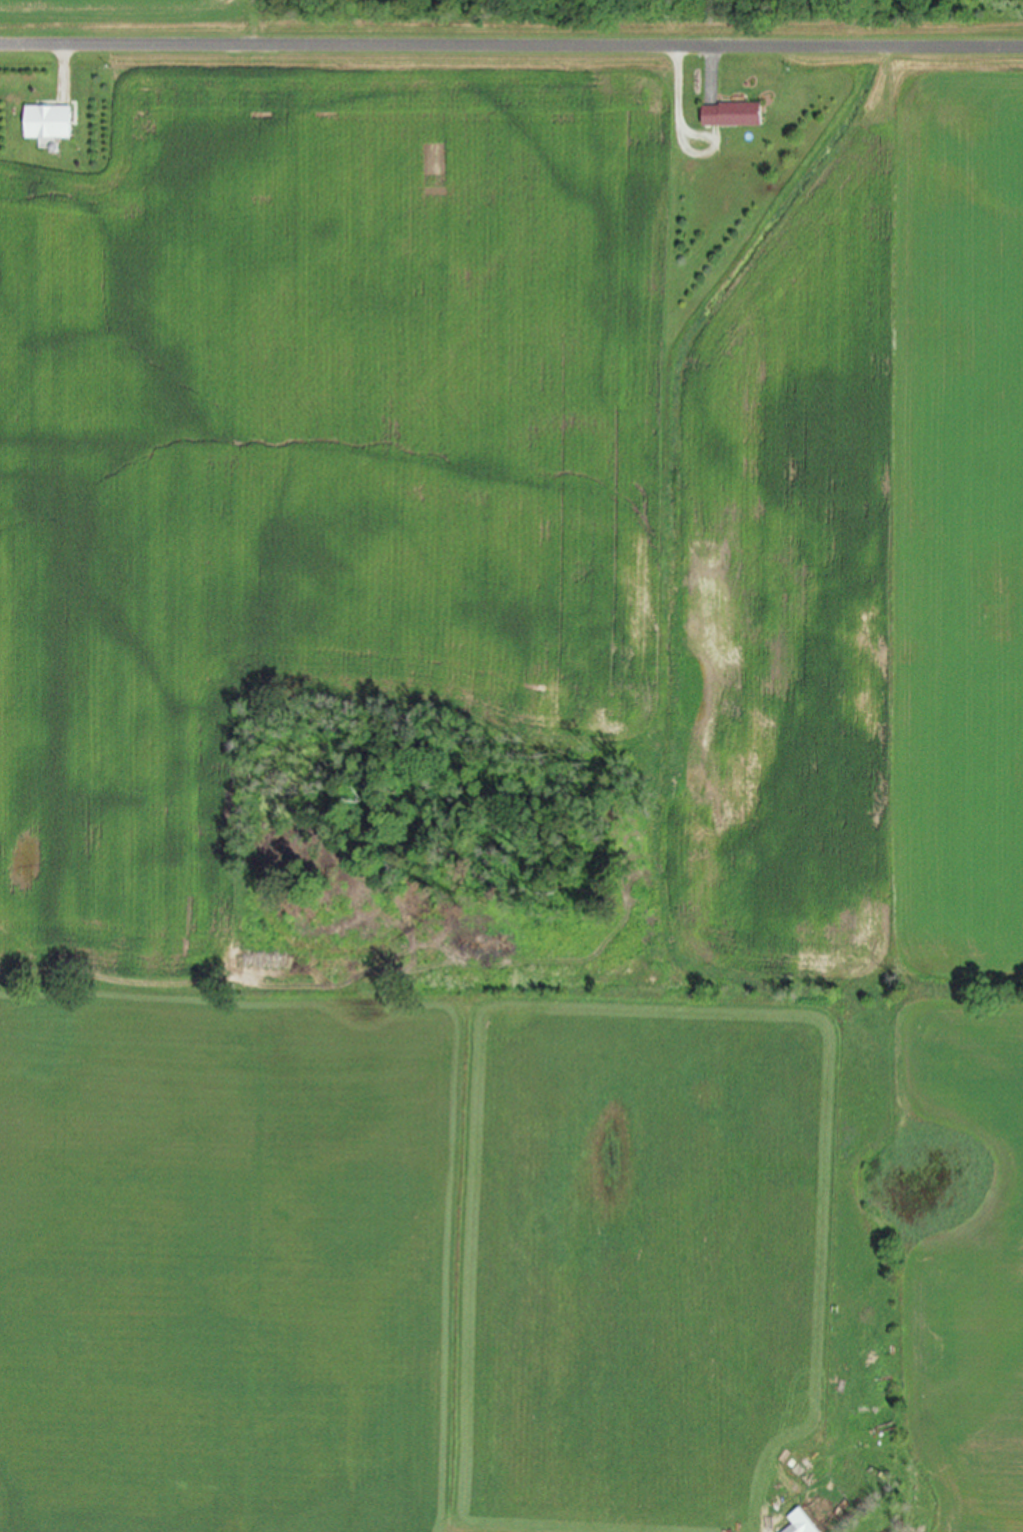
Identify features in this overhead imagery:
road: (511, 45)
road: (64, 69)
road: (714, 70)
road: (679, 87)
building: (731, 114)
building: (47, 123)
building: (799, 1522)

